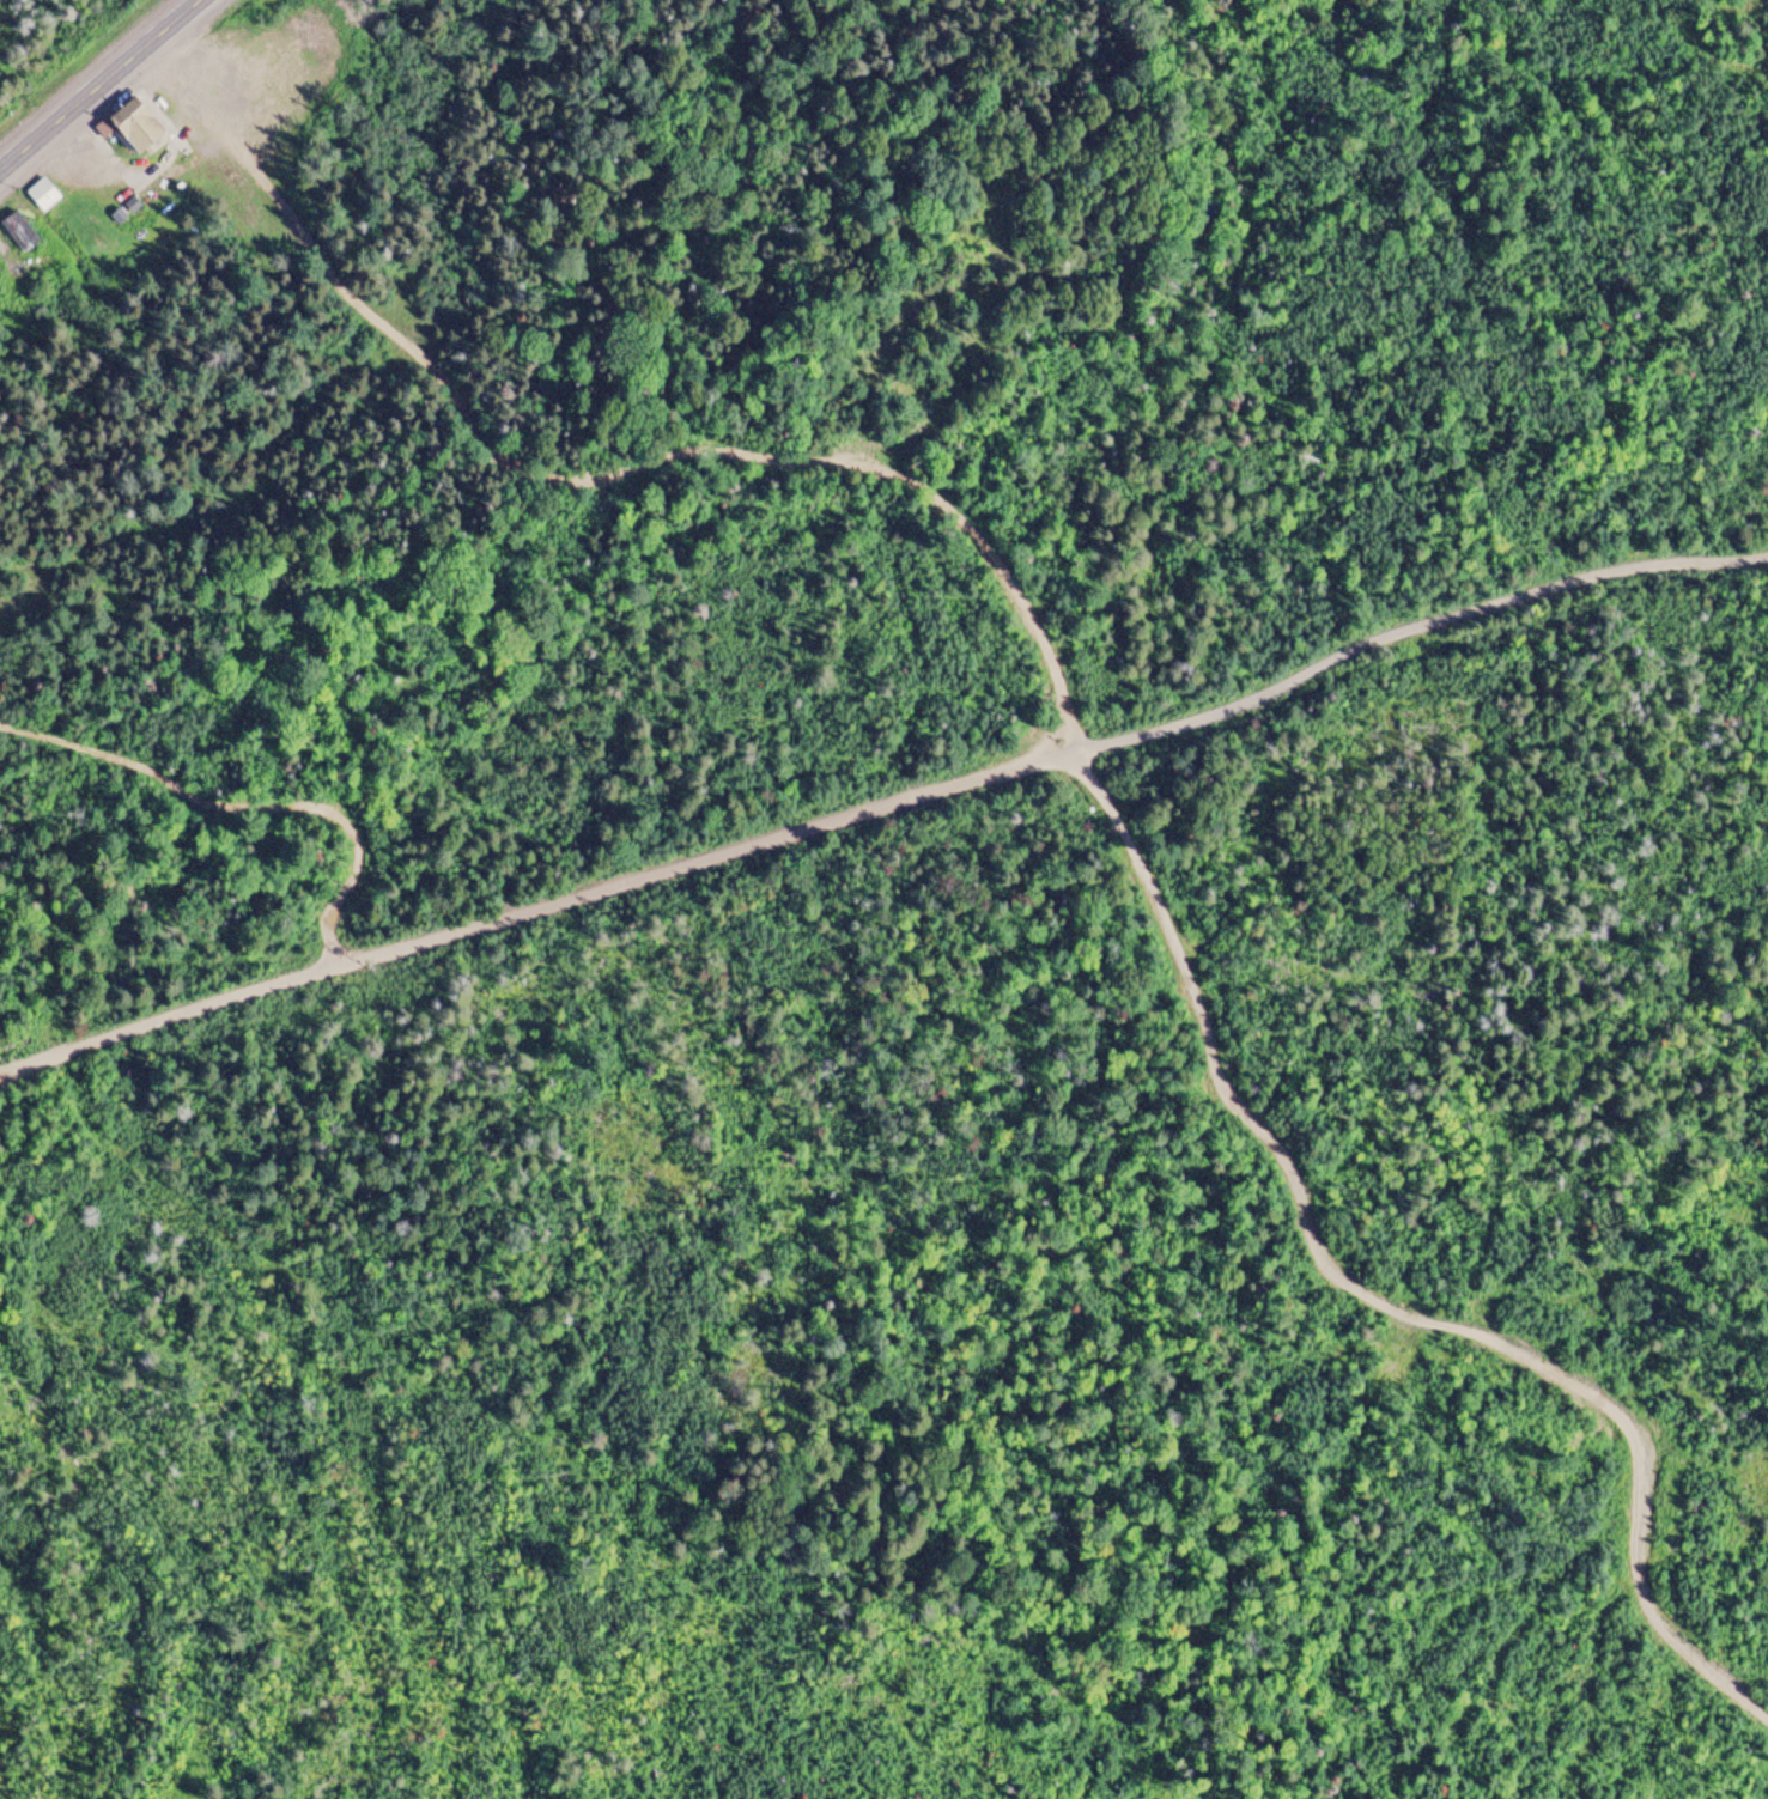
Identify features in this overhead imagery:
road: (98, 83)
building: (129, 120)
building: (43, 195)
building: (19, 232)
road: (876, 789)

